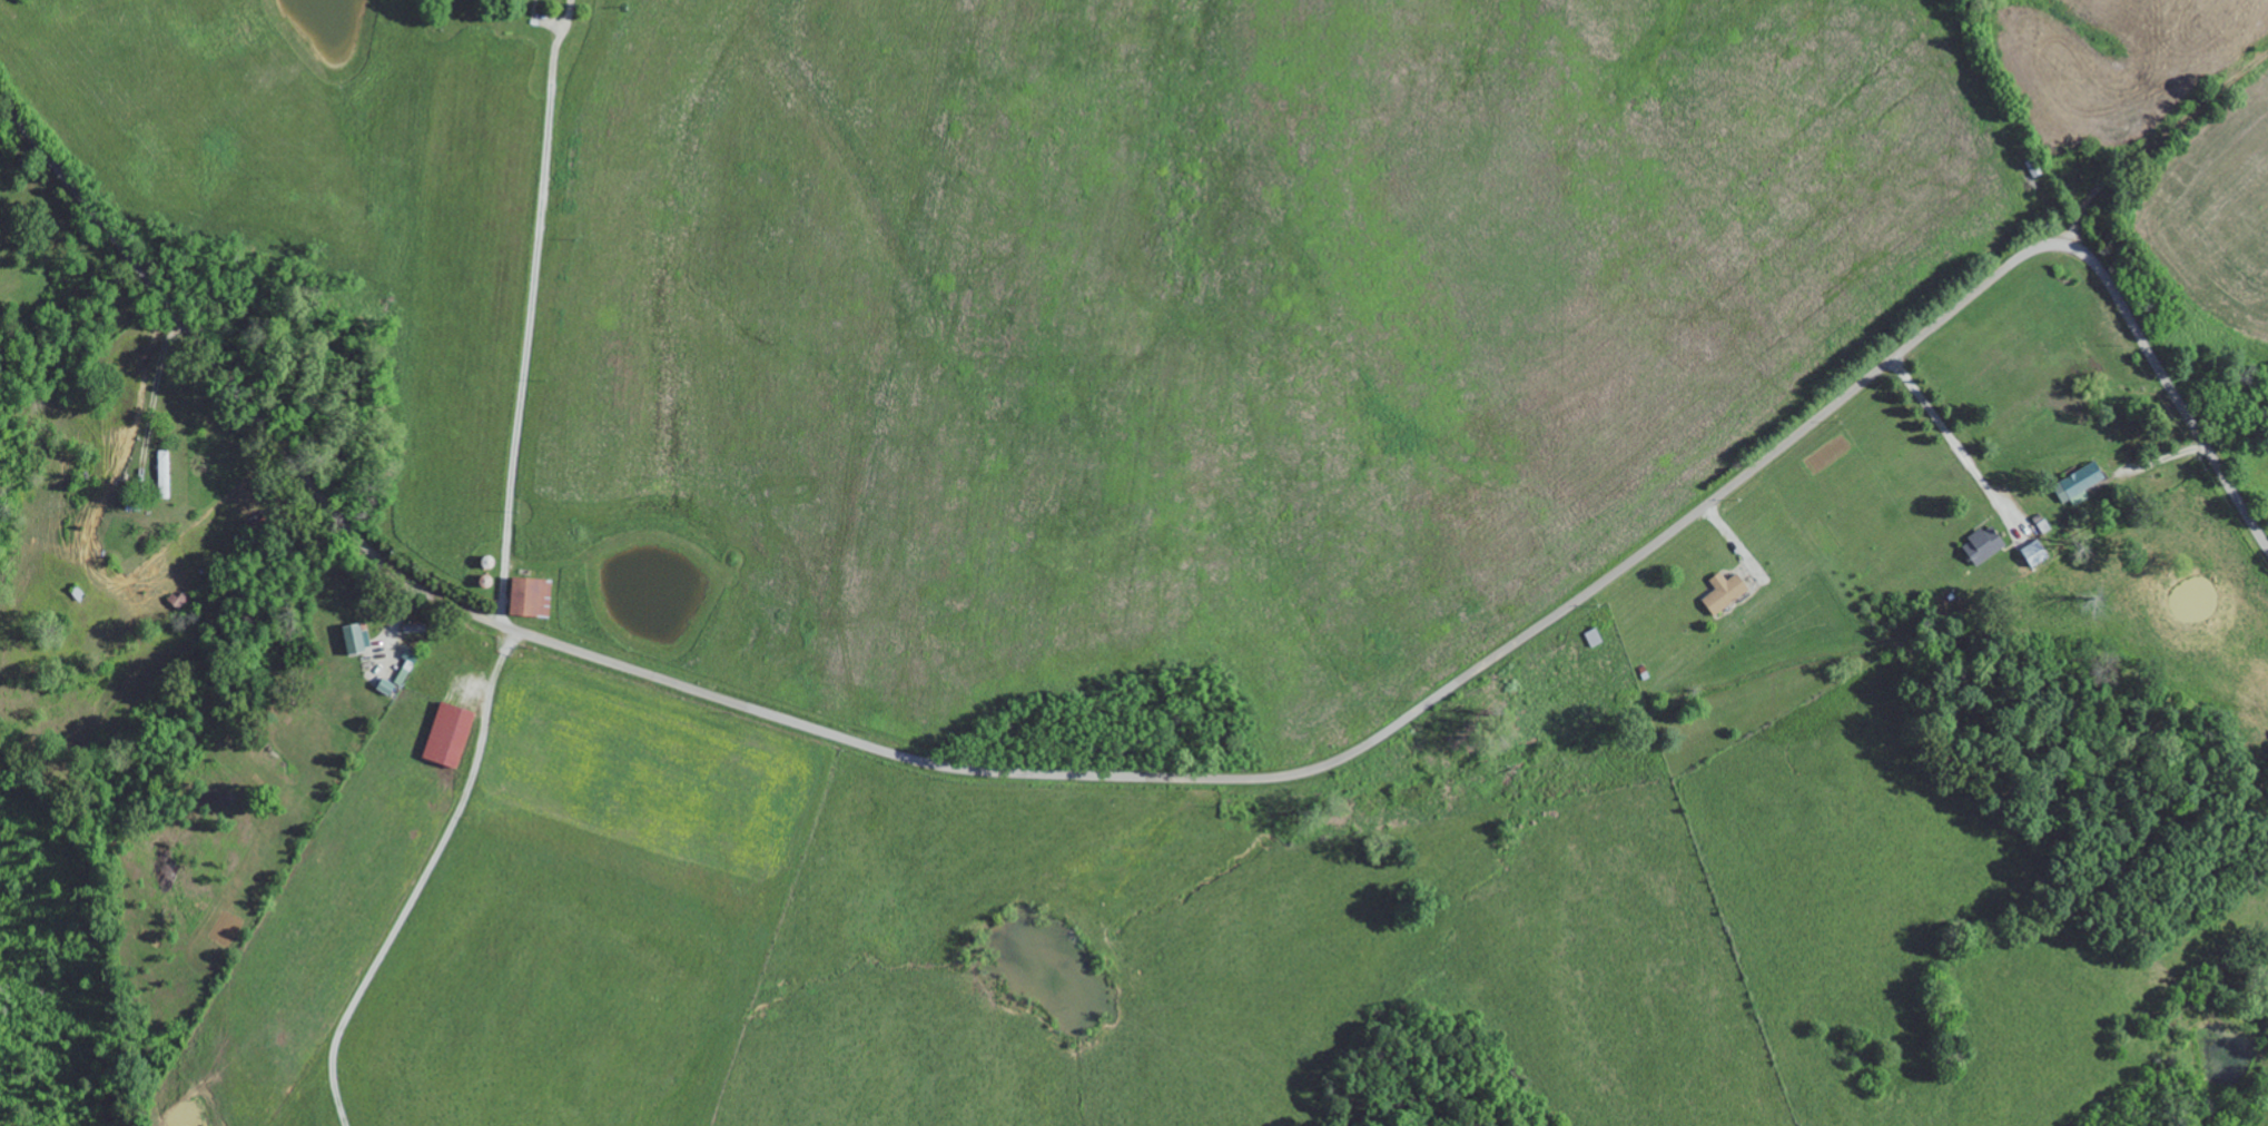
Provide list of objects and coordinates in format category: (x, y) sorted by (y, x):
building: (2080, 484)
building: (1985, 545)
building: (2037, 553)
building: (1726, 593)
building: (533, 597)
building: (357, 640)
building: (407, 668)
building: (387, 688)
building: (451, 735)
road: (1170, 778)

